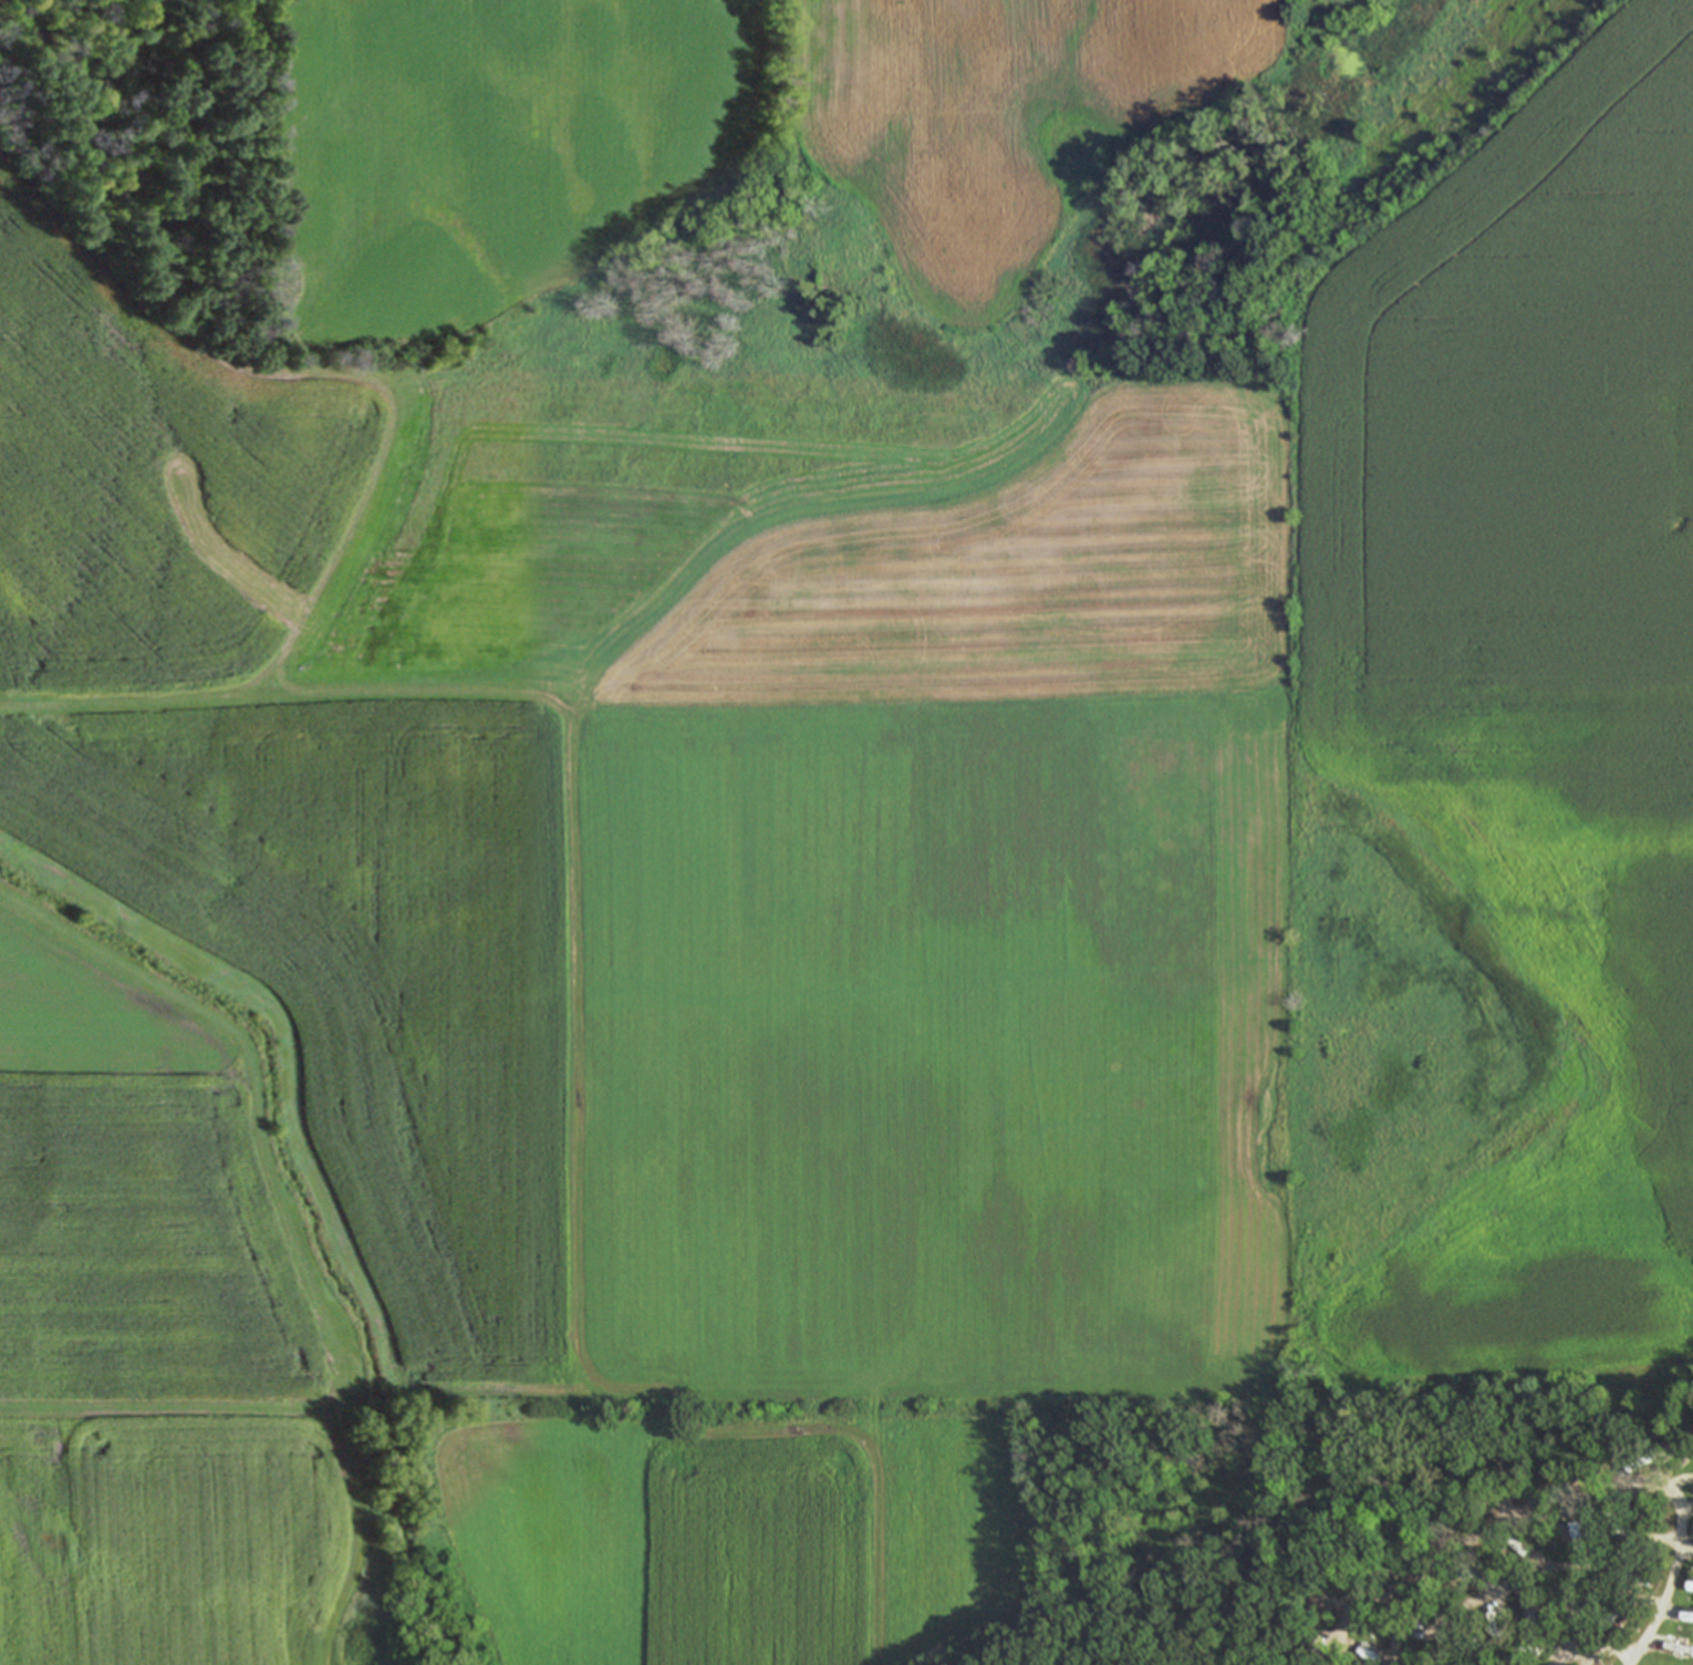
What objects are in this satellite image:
road: (1430, 1485)
road: (1671, 1588)

